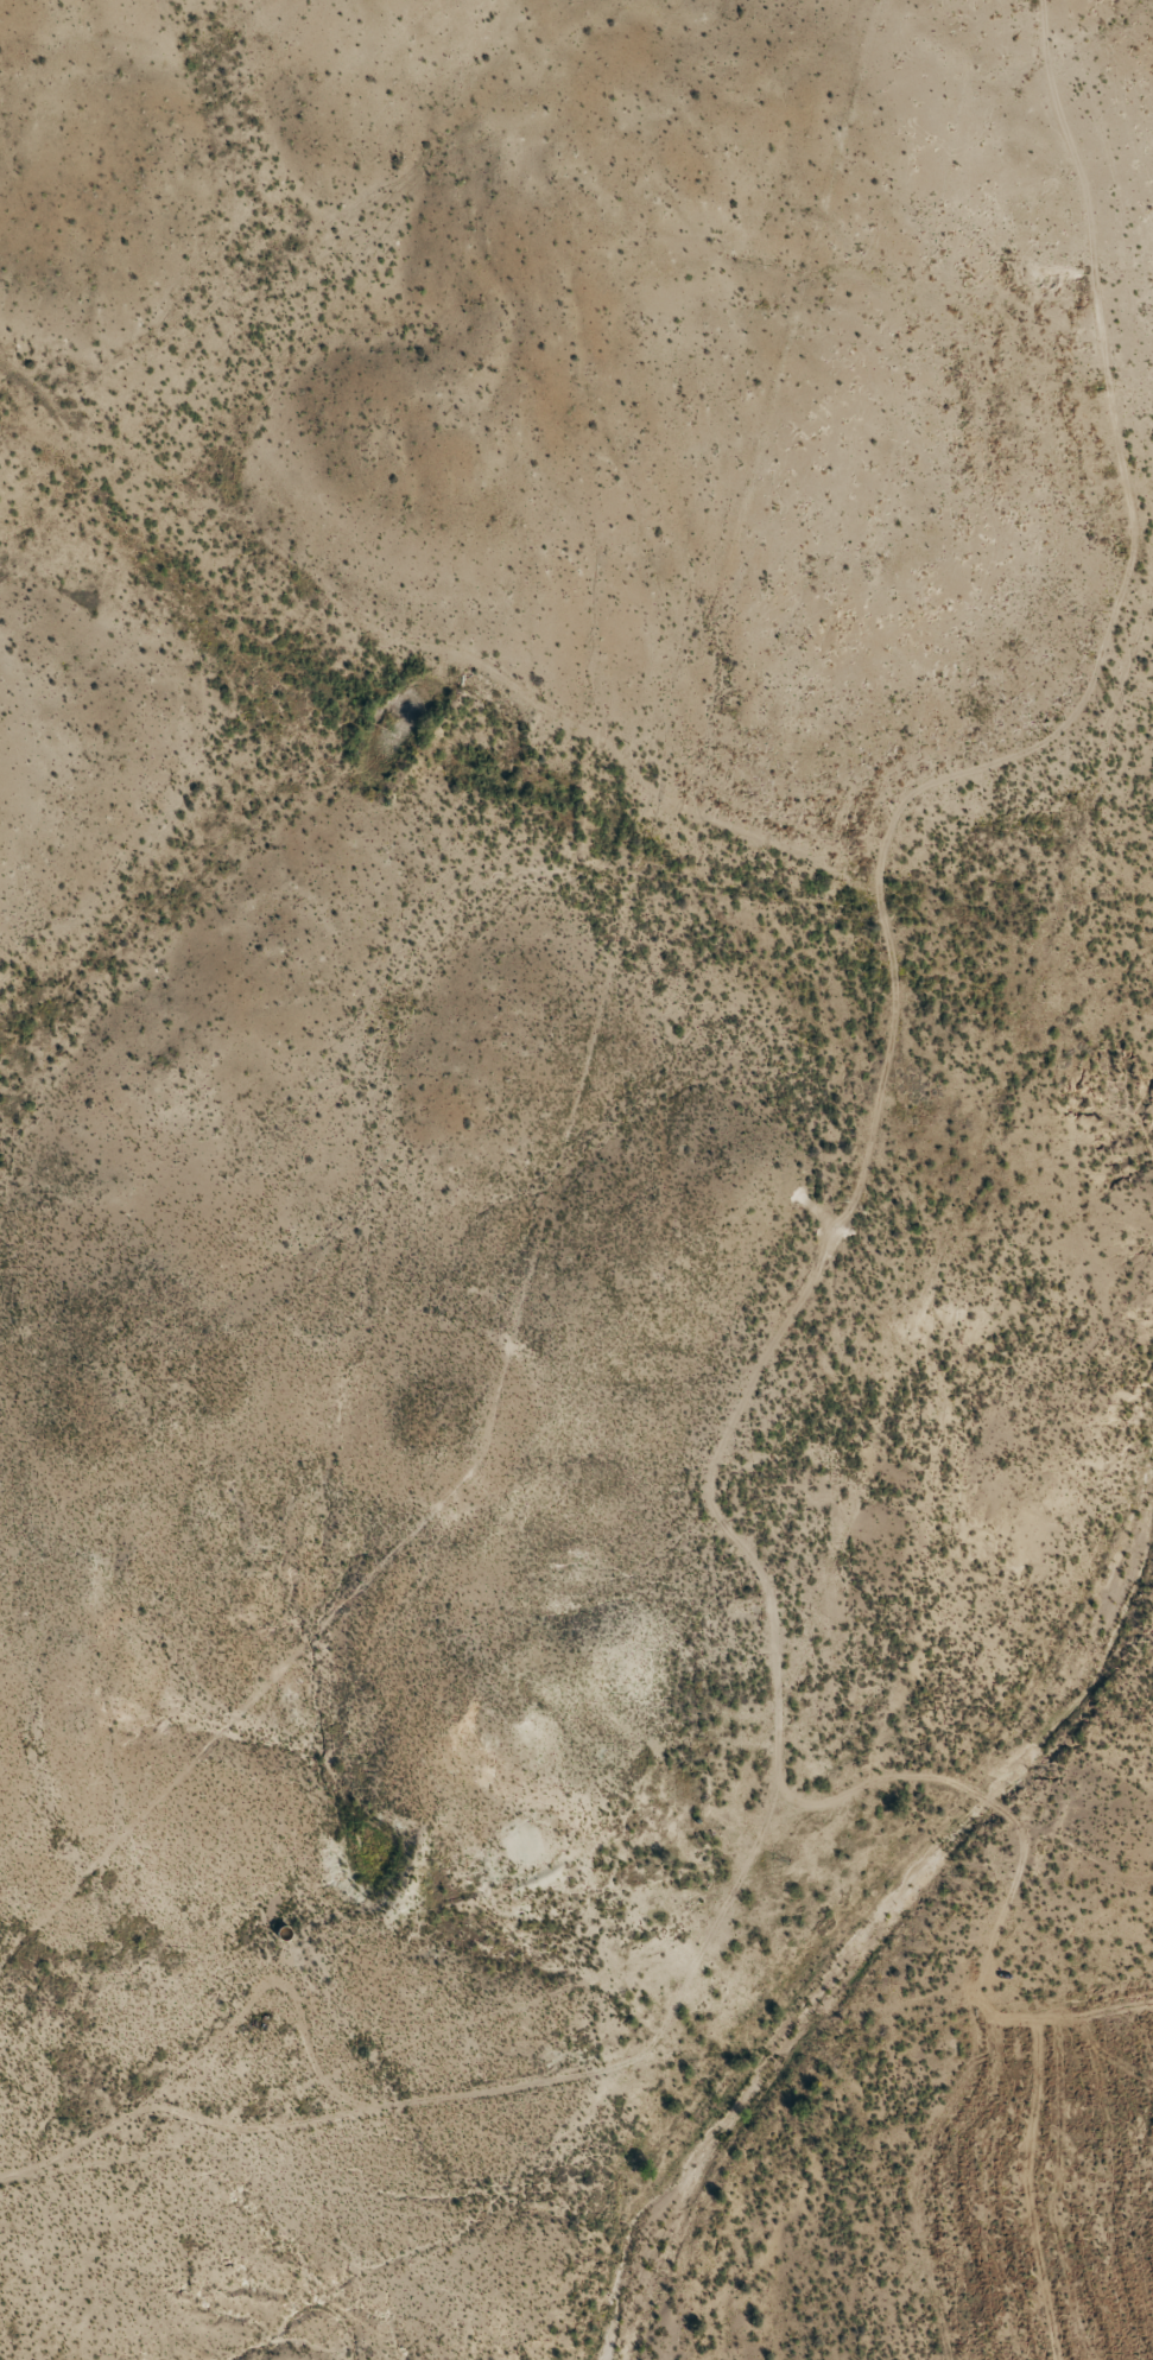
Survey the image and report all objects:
road: (188, 506)
road: (598, 2077)
road: (976, 2093)

